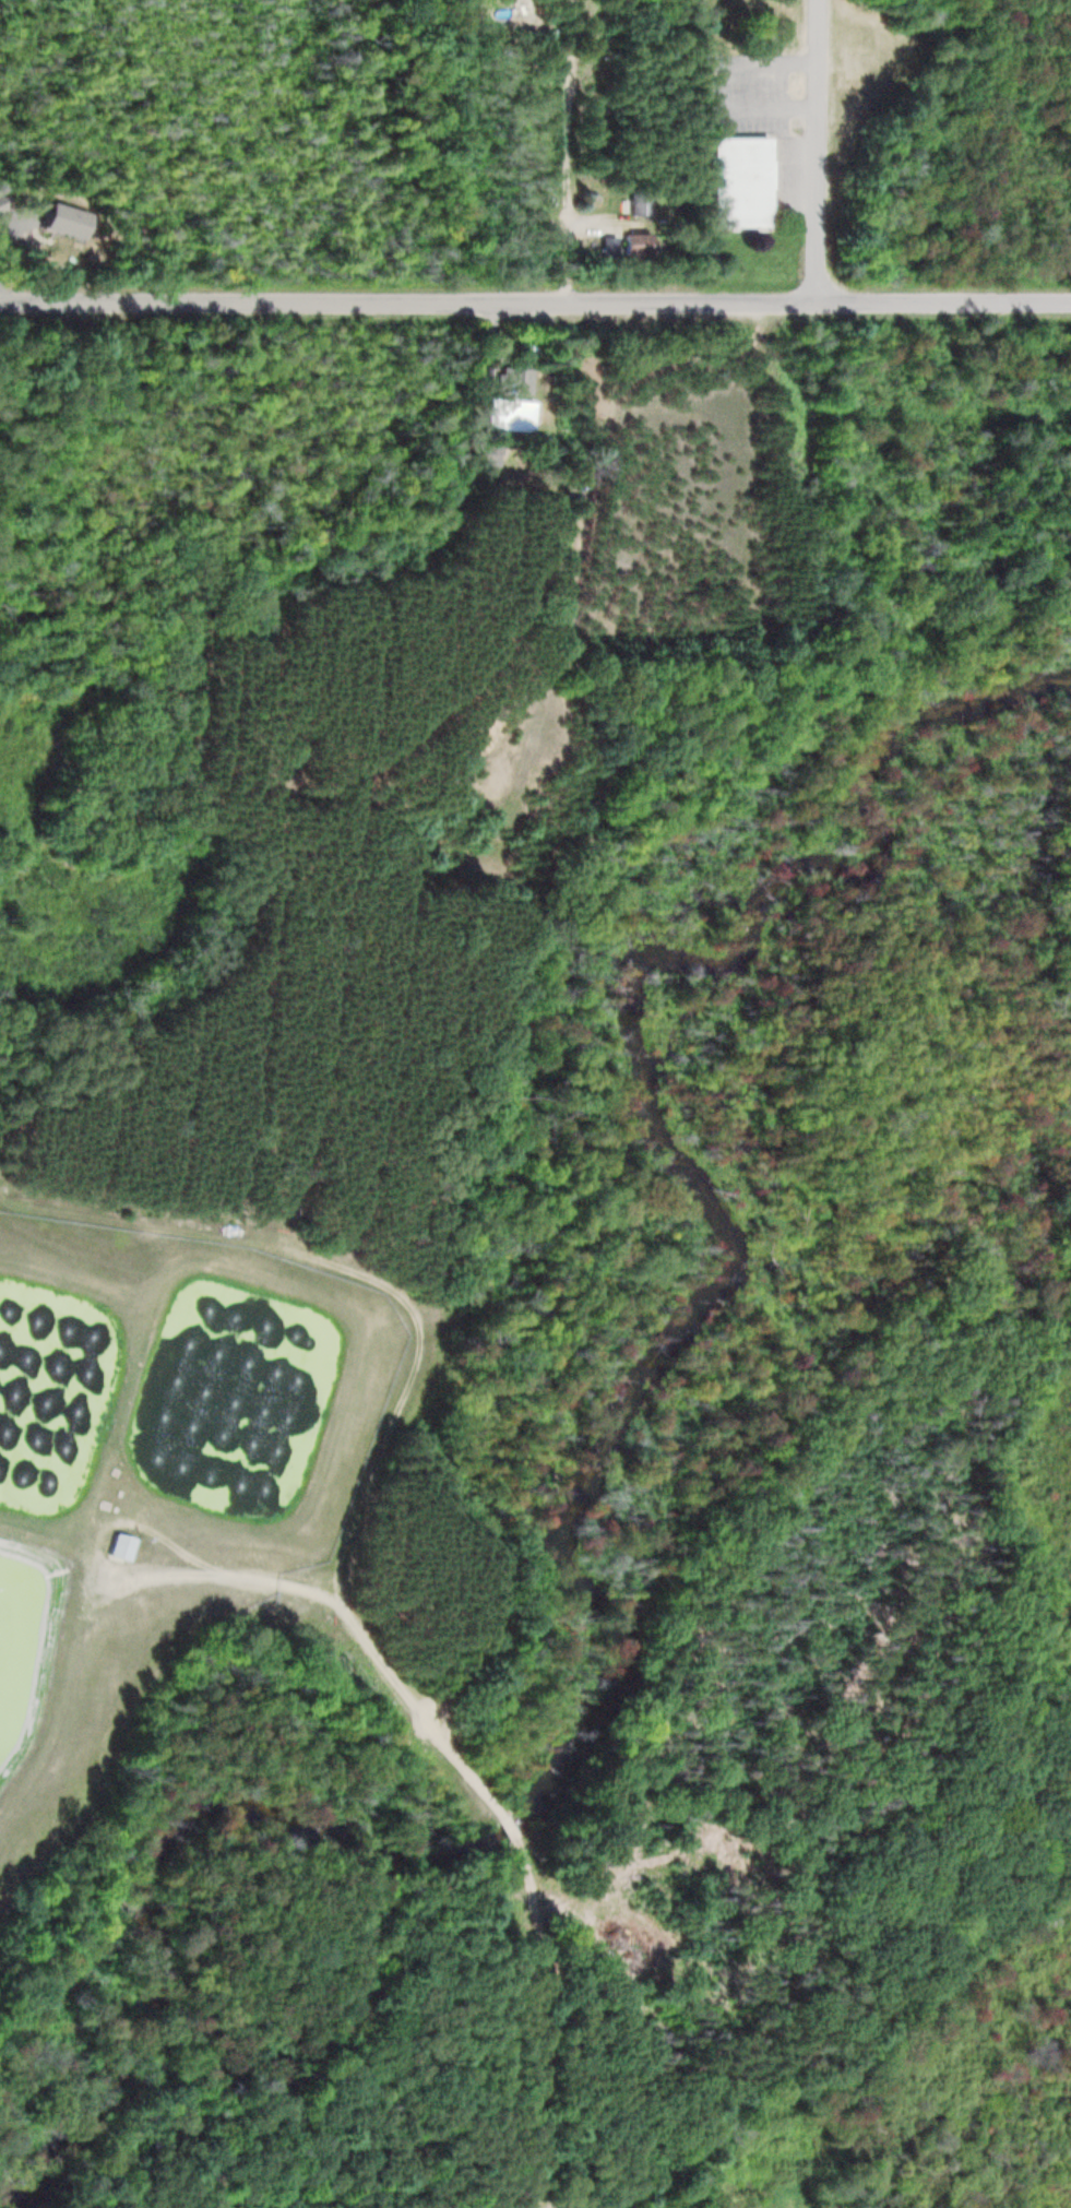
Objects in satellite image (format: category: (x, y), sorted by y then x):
road: (572, 151)
road: (819, 151)
building: (737, 181)
building: (638, 201)
building: (630, 245)
building: (604, 246)
road: (535, 301)
building: (514, 380)
building: (487, 485)
road: (367, 1268)
wastewater plant: (160, 1459)
building: (112, 1544)
road: (347, 1616)
road: (512, 1827)
road: (578, 2018)

